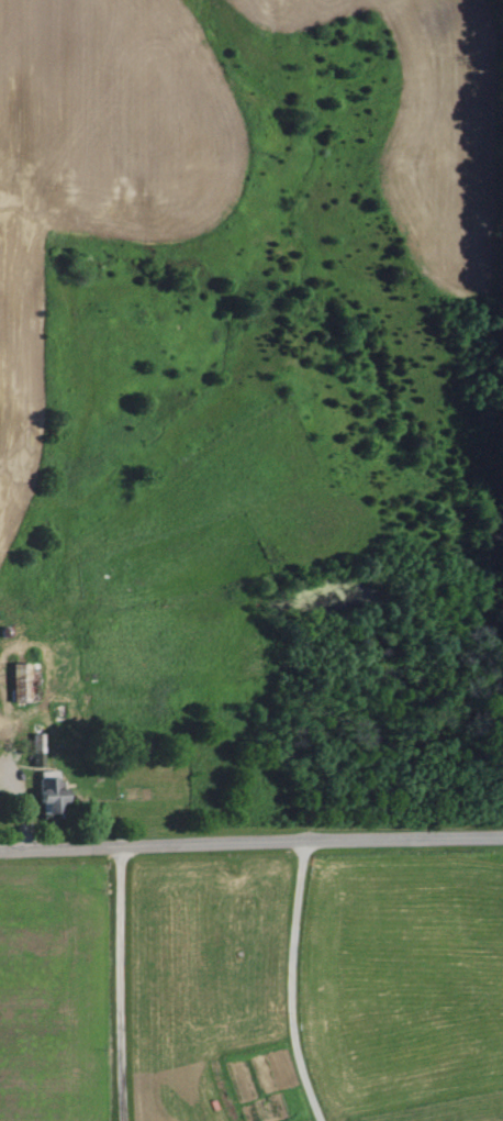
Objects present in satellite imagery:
building: (18, 681)
building: (64, 713)
building: (35, 742)
building: (46, 790)
road: (250, 843)
road: (289, 983)
road: (118, 984)

